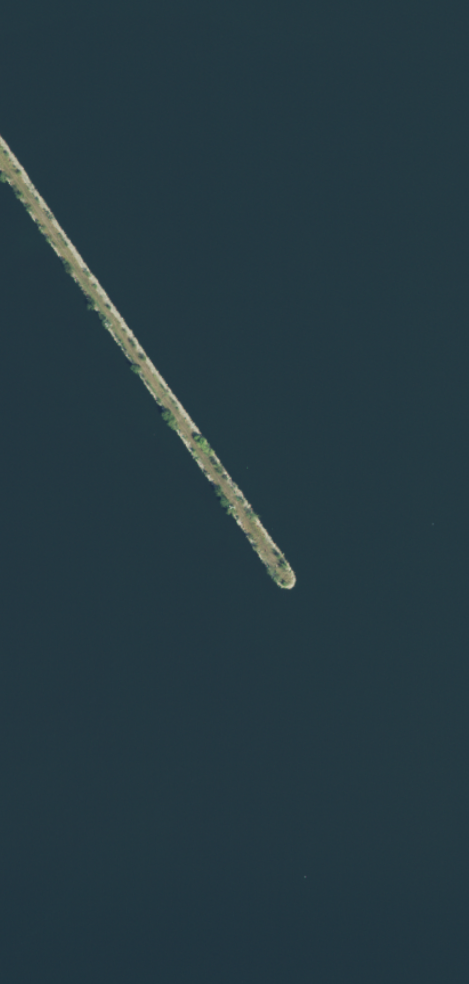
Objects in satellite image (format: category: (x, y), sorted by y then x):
road: (142, 365)

